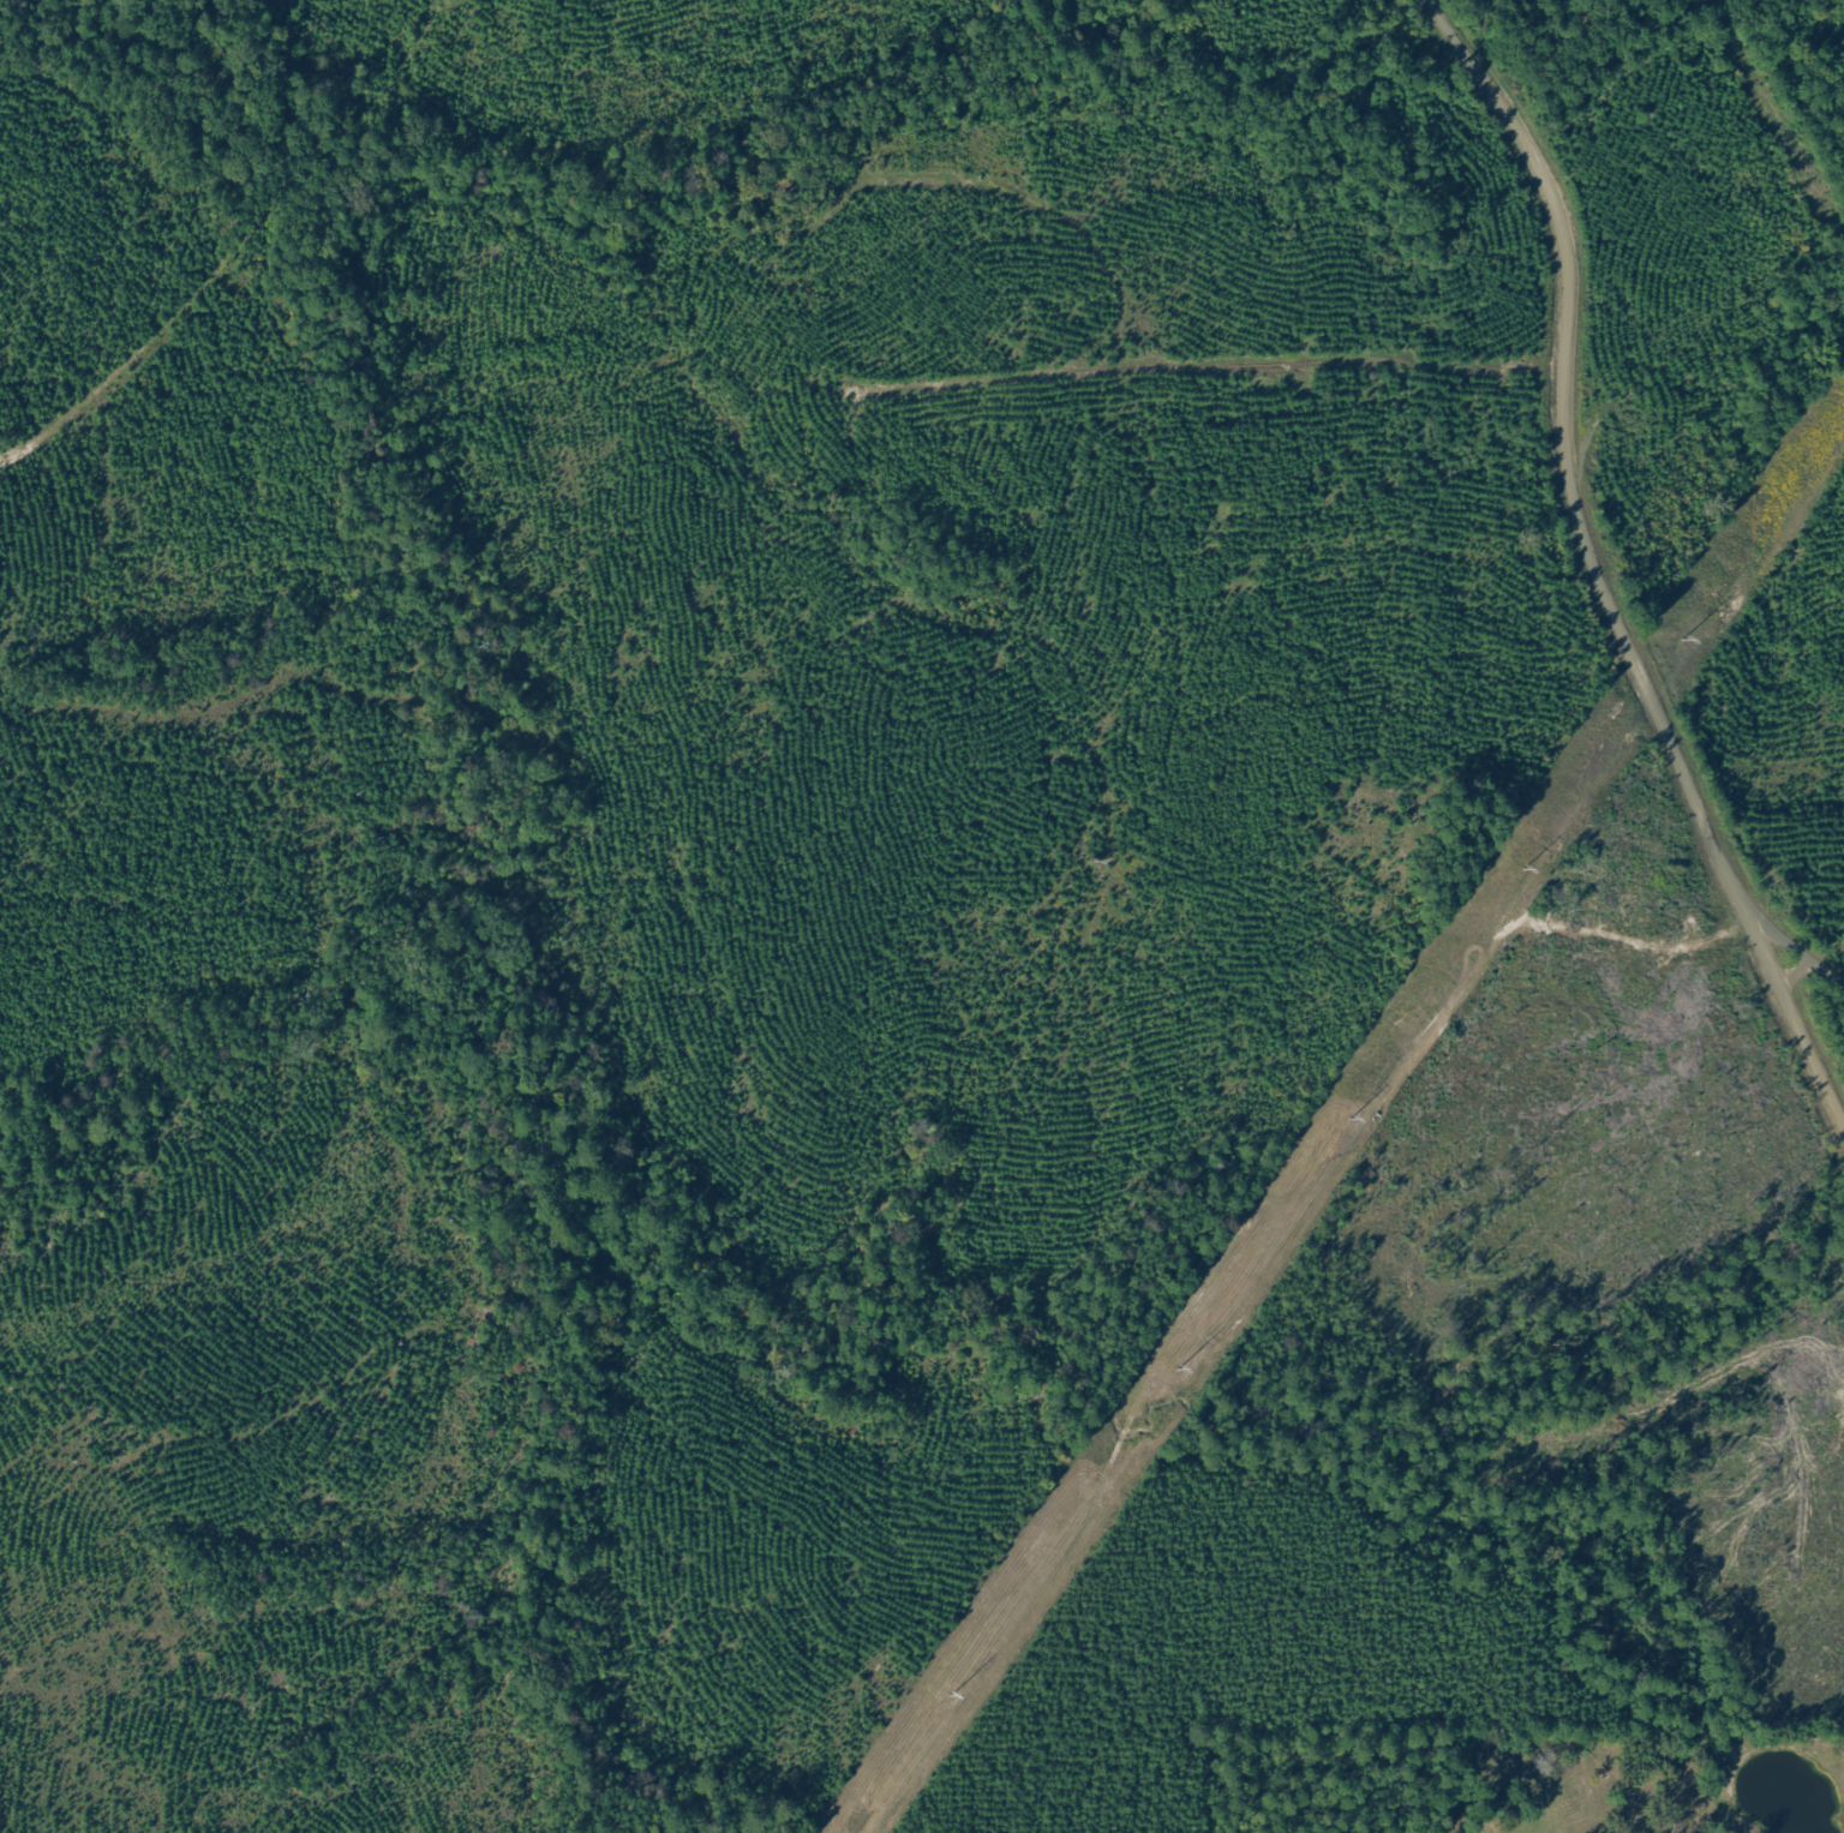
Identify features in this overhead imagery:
road: (1593, 569)
road: (1795, 950)
road: (1796, 977)

